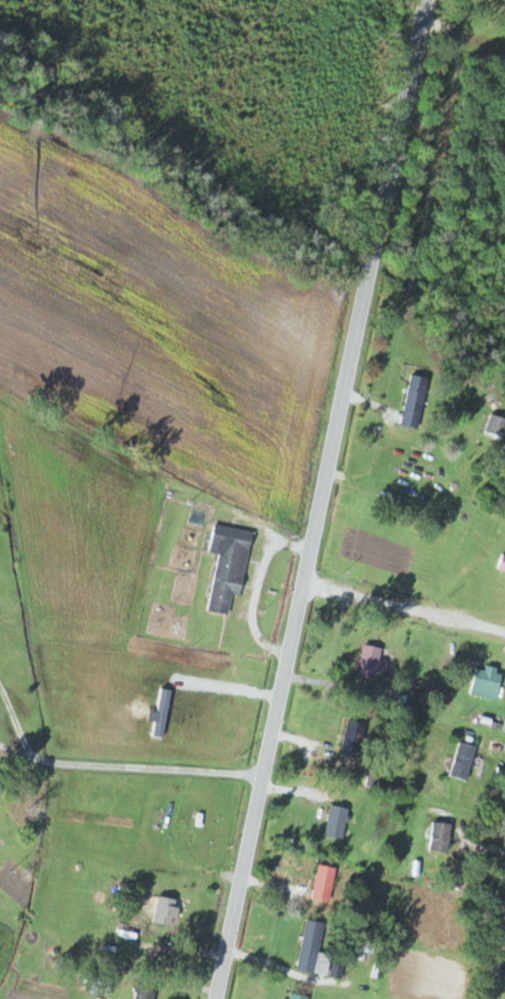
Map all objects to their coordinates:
river: (175, 174)
river: (370, 265)
river: (442, 316)
building: (416, 401)
building: (496, 425)
road: (318, 499)
building: (502, 562)
building: (229, 566)
road: (403, 602)
building: (370, 660)
building: (487, 682)
building: (409, 699)
building: (356, 739)
building: (464, 760)
building: (369, 779)
building: (337, 821)
building: (199, 823)
building: (441, 837)
building: (325, 883)
building: (156, 913)
building: (314, 950)
road: (497, 950)
building: (147, 989)
building: (298, 997)

